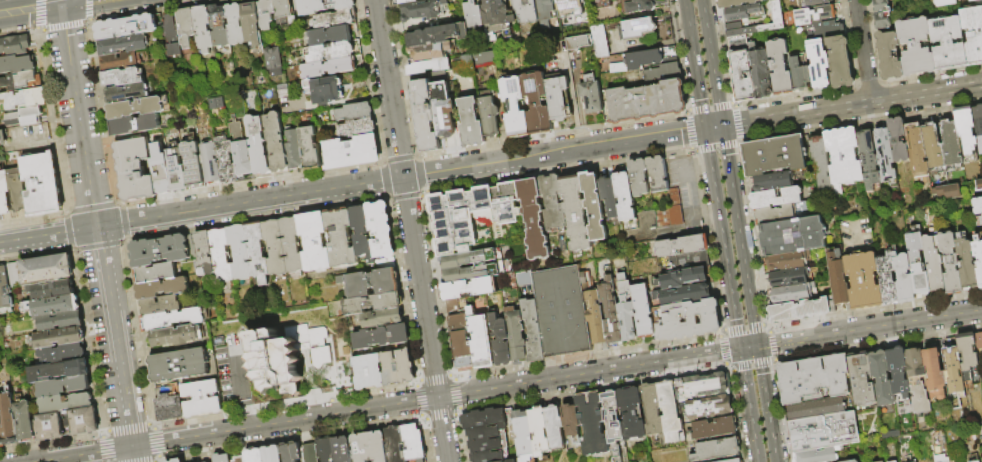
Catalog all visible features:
traffic signals: (64, 0)
building: (511, 0)
building: (972, 0)
building: (406, 1)
building: (815, 2)
building: (943, 2)
building: (736, 3)
building: (342, 4)
road: (31, 5)
building: (640, 5)
building: (880, 5)
building: (312, 6)
building: (568, 7)
building: (423, 9)
building: (527, 11)
building: (285, 12)
building: (742, 12)
building: (776, 12)
building: (266, 14)
building: (473, 14)
building: (813, 14)
building: (497, 19)
building: (334, 20)
building: (551, 20)
building: (880, 20)
building: (252, 23)
building: (236, 24)
building: (220, 26)
building: (126, 27)
building: (187, 27)
building: (204, 28)
building: (646, 29)
building: (750, 29)
building: (827, 29)
building: (972, 33)
building: (438, 34)
building: (330, 36)
building: (174, 39)
building: (597, 39)
building: (575, 42)
building: (947, 42)
building: (15, 45)
building: (124, 45)
building: (915, 45)
building: (430, 51)
road: (861, 51)
building: (332, 52)
building: (889, 55)
building: (485, 57)
building: (645, 59)
building: (120, 61)
building: (273, 61)
building: (839, 62)
road: (712, 63)
building: (818, 63)
building: (17, 64)
road: (694, 64)
building: (429, 66)
building: (779, 67)
building: (329, 68)
building: (740, 69)
building: (760, 71)
building: (663, 74)
building: (799, 74)
building: (124, 77)
building: (21, 80)
building: (326, 91)
building: (128, 92)
building: (591, 94)
building: (558, 97)
building: (25, 98)
building: (645, 101)
building: (537, 103)
road: (851, 105)
building: (515, 107)
building: (137, 108)
building: (355, 112)
building: (444, 112)
road: (78, 114)
building: (425, 115)
building: (490, 116)
building: (24, 117)
building: (471, 124)
building: (136, 125)
building: (978, 126)
traffic signals: (722, 127)
building: (358, 128)
road: (713, 128)
building: (966, 129)
traffic signals: (705, 130)
building: (2, 138)
road: (608, 140)
building: (898, 140)
building: (278, 142)
building: (950, 143)
building: (932, 145)
building: (259, 147)
building: (311, 148)
building: (241, 150)
building: (295, 150)
building: (352, 152)
building: (917, 152)
building: (883, 153)
building: (773, 155)
building: (843, 155)
building: (867, 158)
building: (220, 162)
building: (820, 162)
building: (194, 165)
building: (135, 169)
road: (457, 170)
building: (658, 173)
building: (162, 174)
building: (639, 176)
building: (773, 182)
building: (42, 184)
building: (979, 184)
building: (18, 191)
building: (944, 191)
building: (4, 194)
building: (610, 194)
building: (625, 196)
building: (775, 198)
parking lot: (689, 200)
building: (552, 202)
road: (249, 203)
building: (977, 205)
building: (594, 206)
road: (91, 207)
building: (670, 212)
building: (782, 213)
building: (471, 214)
building: (576, 214)
building: (534, 218)
road: (120, 221)
building: (980, 221)
road: (69, 229)
building: (381, 230)
road: (410, 231)
building: (363, 233)
road: (47, 235)
road: (739, 236)
building: (794, 236)
building: (341, 237)
road: (722, 239)
building: (315, 241)
road: (98, 244)
building: (292, 244)
building: (683, 245)
building: (276, 247)
building: (257, 249)
building: (164, 250)
building: (241, 252)
building: (206, 253)
building: (223, 256)
building: (978, 256)
building: (689, 261)
building: (787, 261)
building: (966, 262)
building: (933, 263)
building: (950, 263)
building: (917, 264)
building: (485, 267)
building: (47, 269)
building: (157, 272)
building: (15, 275)
building: (790, 277)
building: (903, 277)
building: (683, 278)
building: (838, 279)
building: (887, 279)
building: (373, 280)
building: (863, 280)
building: (163, 288)
building: (469, 288)
building: (4, 290)
building: (52, 290)
building: (792, 293)
building: (684, 294)
building: (374, 303)
building: (55, 306)
building: (161, 306)
building: (627, 309)
building: (801, 309)
building: (562, 310)
building: (643, 310)
building: (610, 311)
building: (595, 316)
building: (382, 318)
building: (173, 319)
building: (686, 320)
building: (61, 321)
road: (869, 328)
building: (532, 330)
road: (137, 332)
building: (516, 333)
building: (460, 335)
building: (176, 336)
road: (113, 337)
building: (382, 337)
building: (60, 338)
road: (88, 340)
building: (481, 340)
building: (501, 340)
building: (978, 340)
traffic signals: (757, 346)
road: (748, 347)
traffic signals: (740, 349)
building: (64, 353)
building: (967, 354)
road: (758, 355)
building: (286, 358)
building: (915, 362)
building: (180, 365)
building: (397, 367)
building: (60, 370)
building: (954, 370)
building: (369, 371)
building: (935, 372)
building: (898, 373)
road: (239, 376)
building: (881, 376)
building: (813, 377)
road: (434, 378)
building: (860, 379)
building: (63, 386)
building: (702, 386)
road: (453, 393)
building: (201, 398)
road: (435, 398)
road: (419, 399)
building: (920, 399)
building: (66, 403)
road: (286, 405)
road: (749, 405)
building: (170, 407)
building: (814, 407)
building: (710, 408)
building: (662, 411)
building: (631, 412)
road: (767, 413)
road: (246, 414)
road: (439, 414)
building: (571, 418)
building: (8, 419)
building: (25, 421)
building: (83, 421)
building: (485, 423)
building: (554, 425)
building: (593, 425)
building: (53, 426)
road: (128, 428)
building: (715, 428)
building: (540, 430)
building: (824, 431)
road: (290, 436)
building: (524, 436)
building: (1, 438)
road: (153, 442)
building: (395, 443)
building: (414, 443)
building: (486, 444)
road: (107, 447)
building: (371, 447)
building: (326, 449)
building: (343, 449)
building: (717, 450)
building: (292, 452)
building: (310, 453)
road: (84, 454)
road: (132, 454)
building: (273, 454)
building: (255, 455)
building: (816, 455)
building: (489, 456)
building: (941, 457)
building: (222, 458)
building: (240, 459)
road: (145, 460)
road: (156, 460)
building: (179, 460)
building: (733, 460)
building: (168, 461)
building: (855, 461)
building: (879, 461)
building: (893, 461)
building: (975, 461)

